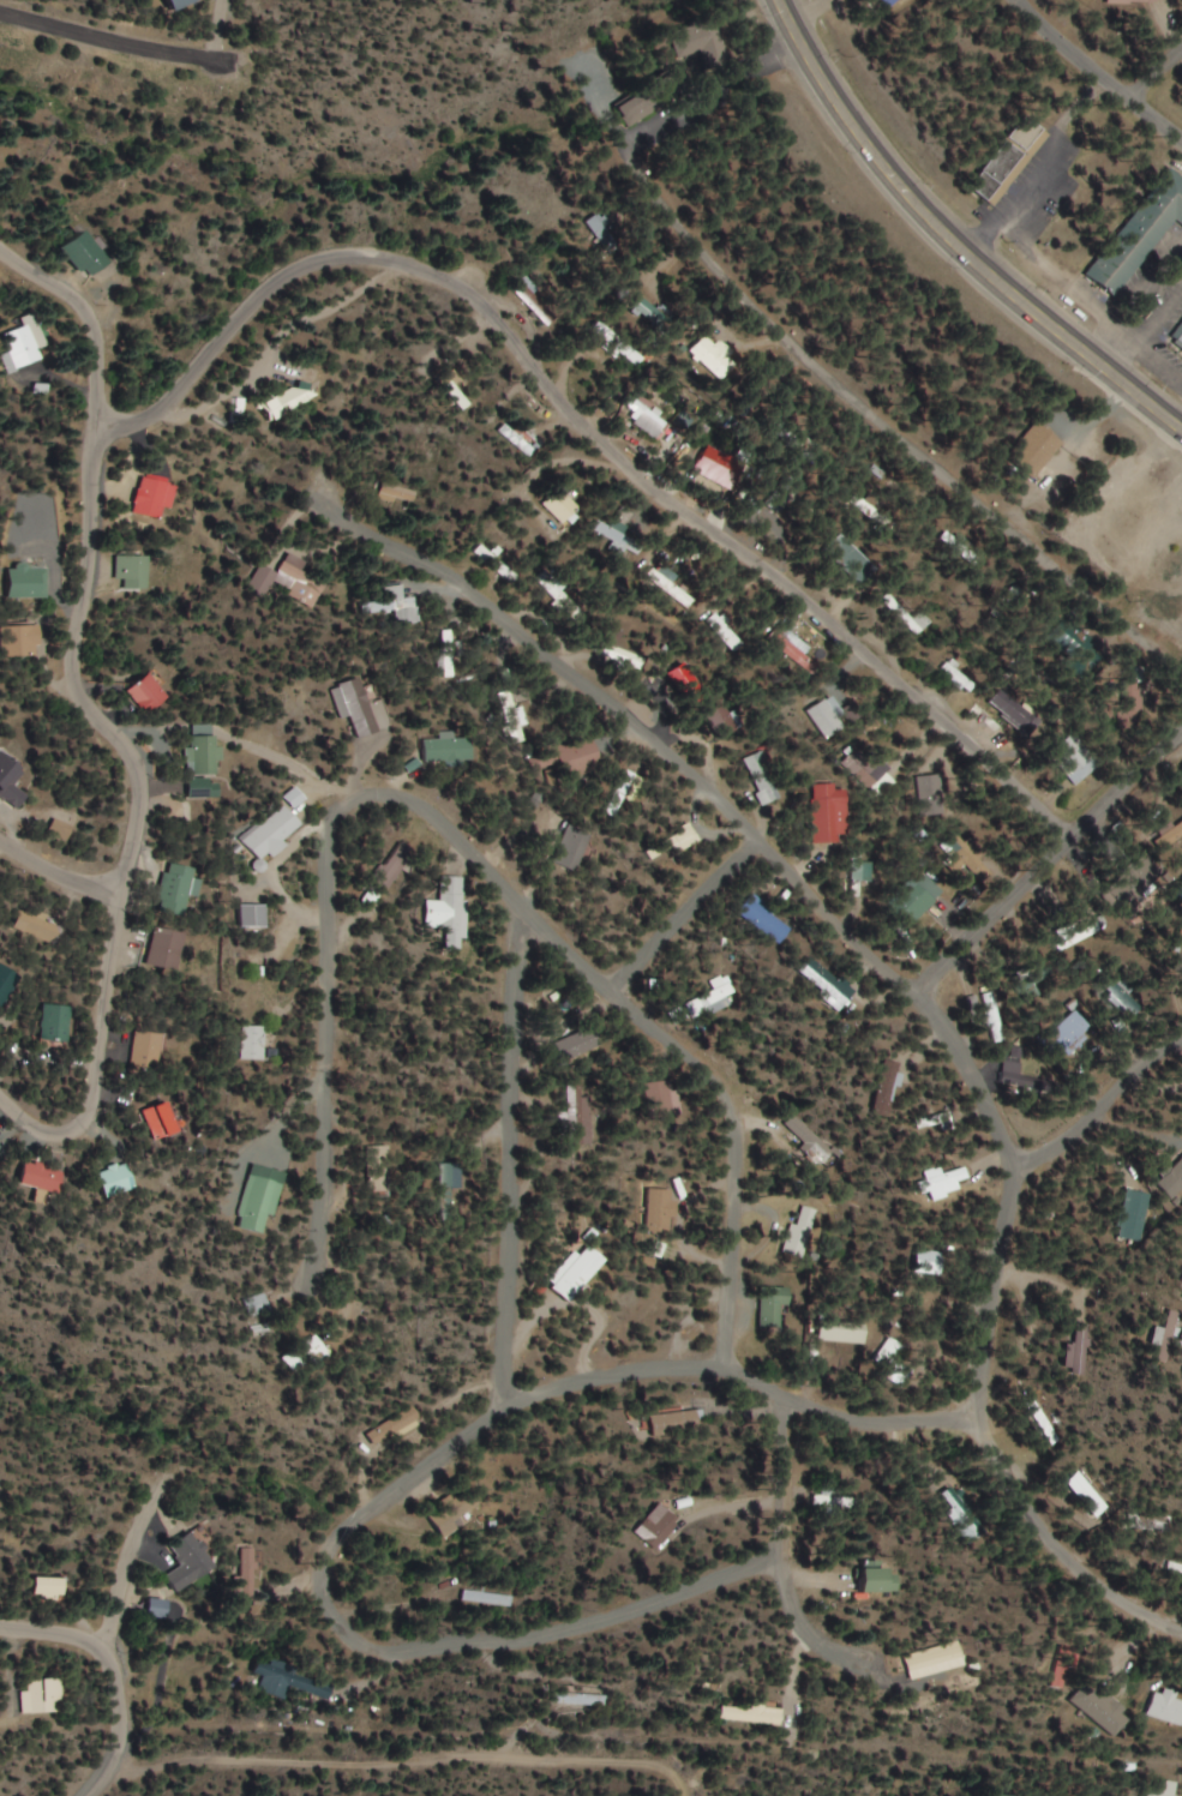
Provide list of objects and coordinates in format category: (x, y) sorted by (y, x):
building: (1123, 0)
building: (184, 4)
road: (220, 30)
road: (113, 37)
building: (695, 41)
road: (1096, 70)
road: (1157, 76)
road: (708, 90)
building: (650, 96)
road: (602, 107)
building: (1006, 161)
building: (1136, 232)
road: (947, 241)
building: (85, 254)
building: (533, 300)
building: (1176, 332)
building: (23, 344)
building: (714, 358)
building: (289, 400)
building: (646, 414)
road: (886, 422)
road: (594, 430)
building: (1037, 449)
building: (395, 493)
building: (780, 494)
building: (152, 495)
building: (560, 503)
building: (871, 504)
building: (1124, 524)
building: (618, 534)
building: (853, 557)
building: (287, 569)
building: (133, 570)
building: (30, 579)
building: (559, 594)
building: (680, 594)
building: (397, 603)
building: (728, 632)
building: (23, 639)
building: (622, 645)
building: (793, 648)
building: (1078, 648)
building: (452, 656)
building: (961, 677)
building: (148, 693)
building: (1124, 704)
building: (361, 707)
building: (1019, 714)
building: (514, 716)
road: (101, 719)
building: (826, 719)
building: (725, 720)
road: (635, 727)
building: (450, 747)
building: (205, 755)
building: (578, 755)
building: (1076, 758)
building: (869, 771)
building: (11, 777)
building: (764, 777)
building: (622, 788)
building: (931, 794)
building: (832, 812)
building: (274, 833)
building: (674, 842)
building: (574, 847)
road: (469, 858)
road: (1050, 860)
road: (59, 871)
building: (863, 871)
building: (179, 888)
building: (928, 906)
building: (452, 908)
building: (256, 914)
road: (686, 914)
building: (767, 919)
building: (1075, 931)
building: (170, 947)
building: (7, 983)
building: (826, 983)
building: (1115, 990)
building: (708, 999)
building: (995, 1016)
building: (58, 1022)
building: (1072, 1032)
building: (254, 1043)
building: (580, 1045)
building: (149, 1051)
building: (1024, 1079)
building: (666, 1100)
road: (1104, 1105)
building: (582, 1117)
building: (164, 1121)
building: (937, 1121)
building: (814, 1139)
road: (511, 1154)
building: (385, 1169)
building: (46, 1177)
building: (120, 1179)
building: (948, 1181)
building: (1171, 1181)
building: (450, 1183)
building: (263, 1202)
building: (662, 1211)
building: (1132, 1215)
building: (803, 1232)
building: (932, 1262)
building: (582, 1273)
building: (775, 1304)
building: (652, 1305)
road: (991, 1337)
building: (1164, 1338)
building: (894, 1351)
building: (1076, 1352)
building: (310, 1354)
building: (678, 1423)
building: (397, 1426)
building: (1049, 1428)
building: (1092, 1495)
building: (832, 1498)
building: (970, 1518)
building: (449, 1520)
building: (655, 1526)
road: (338, 1538)
road: (128, 1556)
building: (192, 1562)
building: (1176, 1575)
building: (882, 1580)
building: (49, 1587)
building: (488, 1598)
building: (161, 1609)
road: (808, 1626)
road: (112, 1651)
building: (940, 1663)
building: (293, 1681)
building: (44, 1696)
building: (582, 1699)
building: (1165, 1707)
building: (1102, 1708)
building: (752, 1714)
road: (410, 1762)
road: (104, 1779)
building: (990, 1795)

